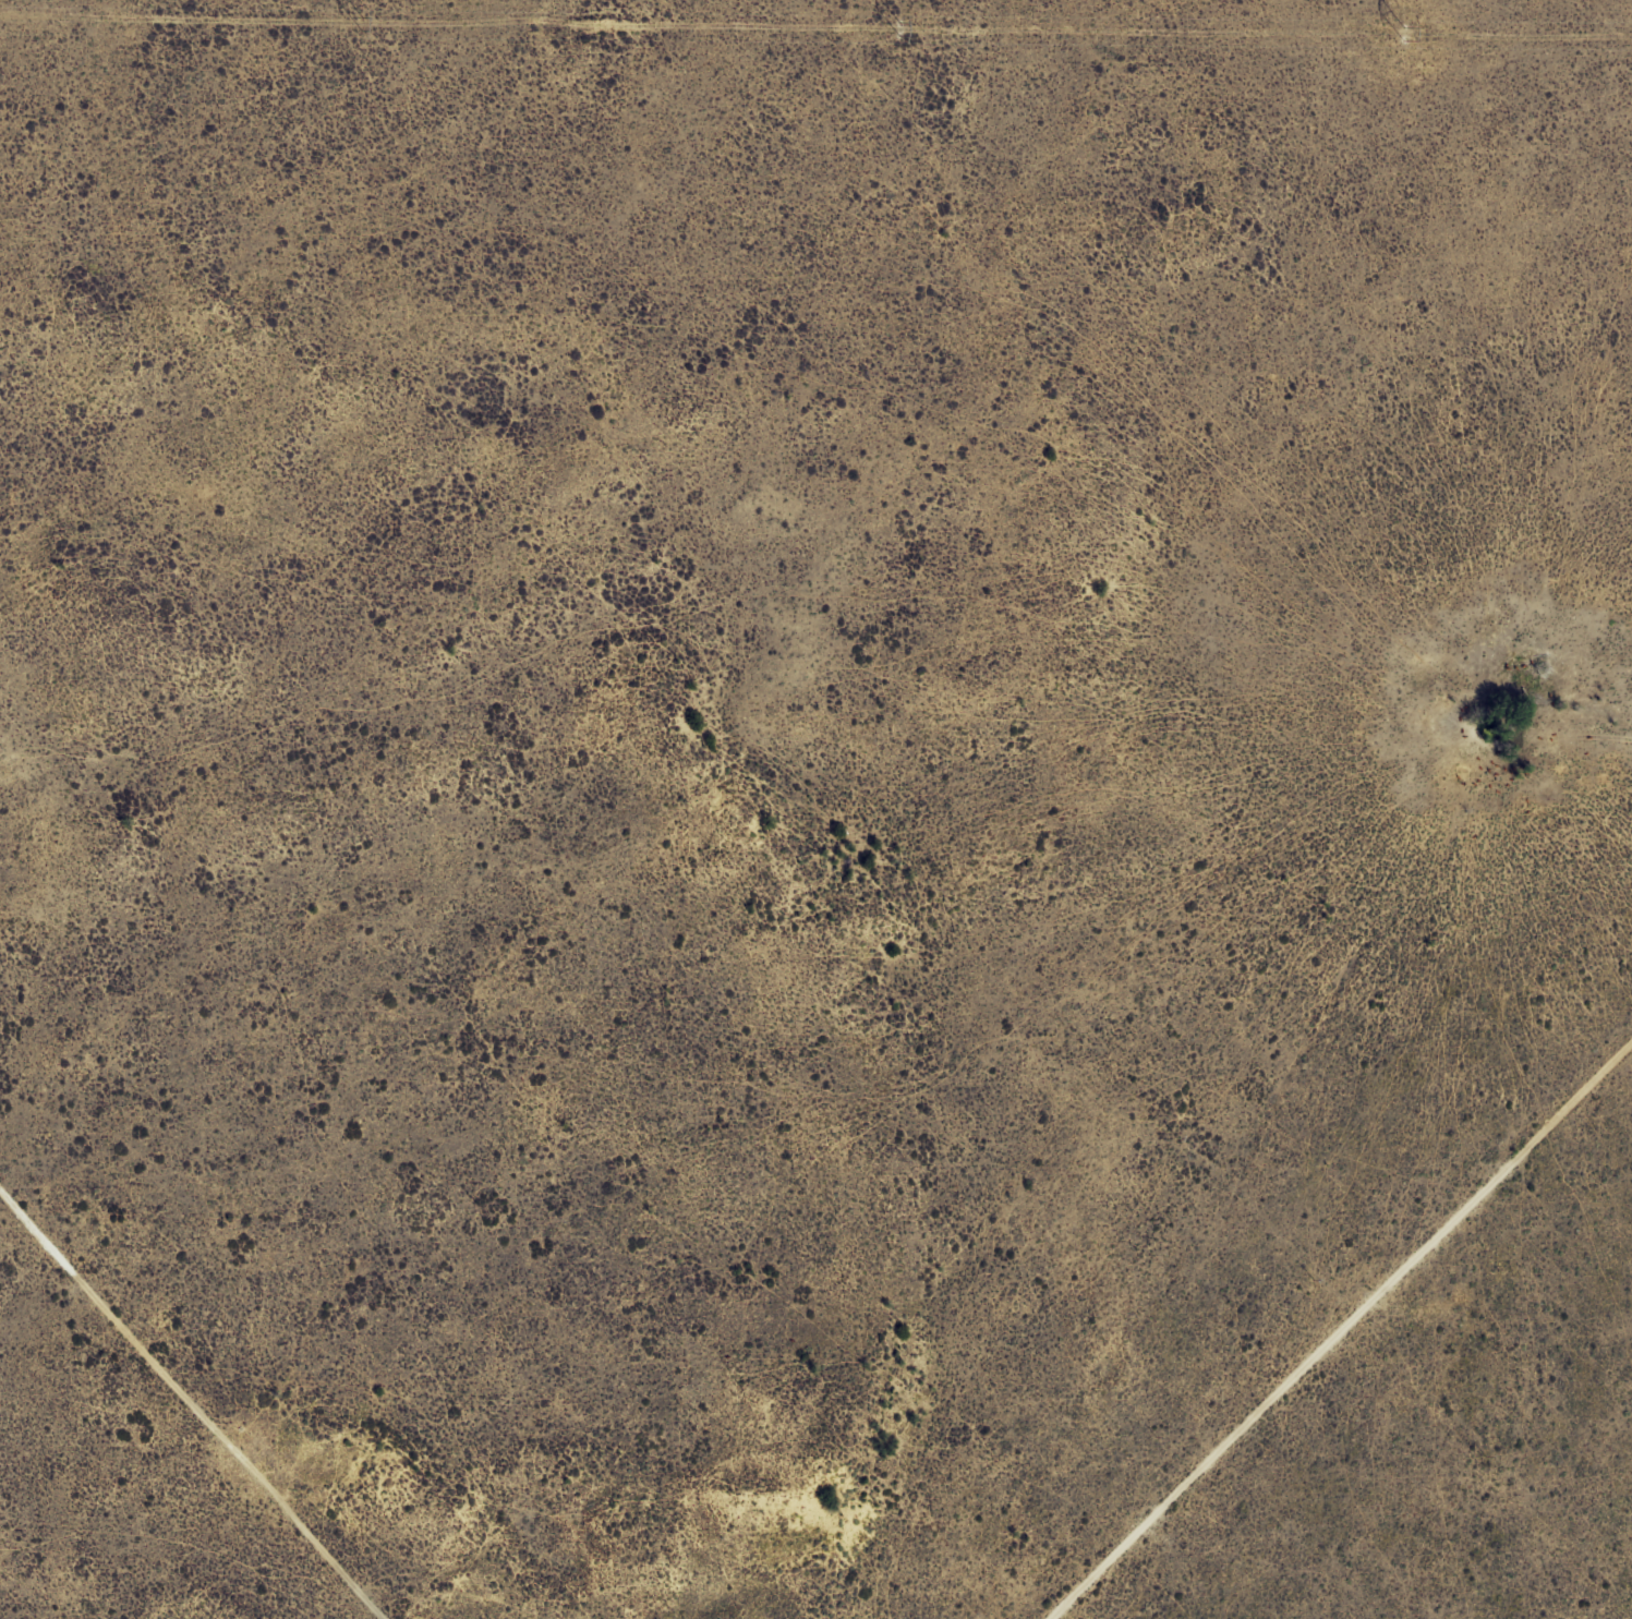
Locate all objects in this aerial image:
power tower: (362, 21)
power tower: (897, 29)
power tower: (1404, 32)
road: (1368, 1351)
road: (220, 1370)

